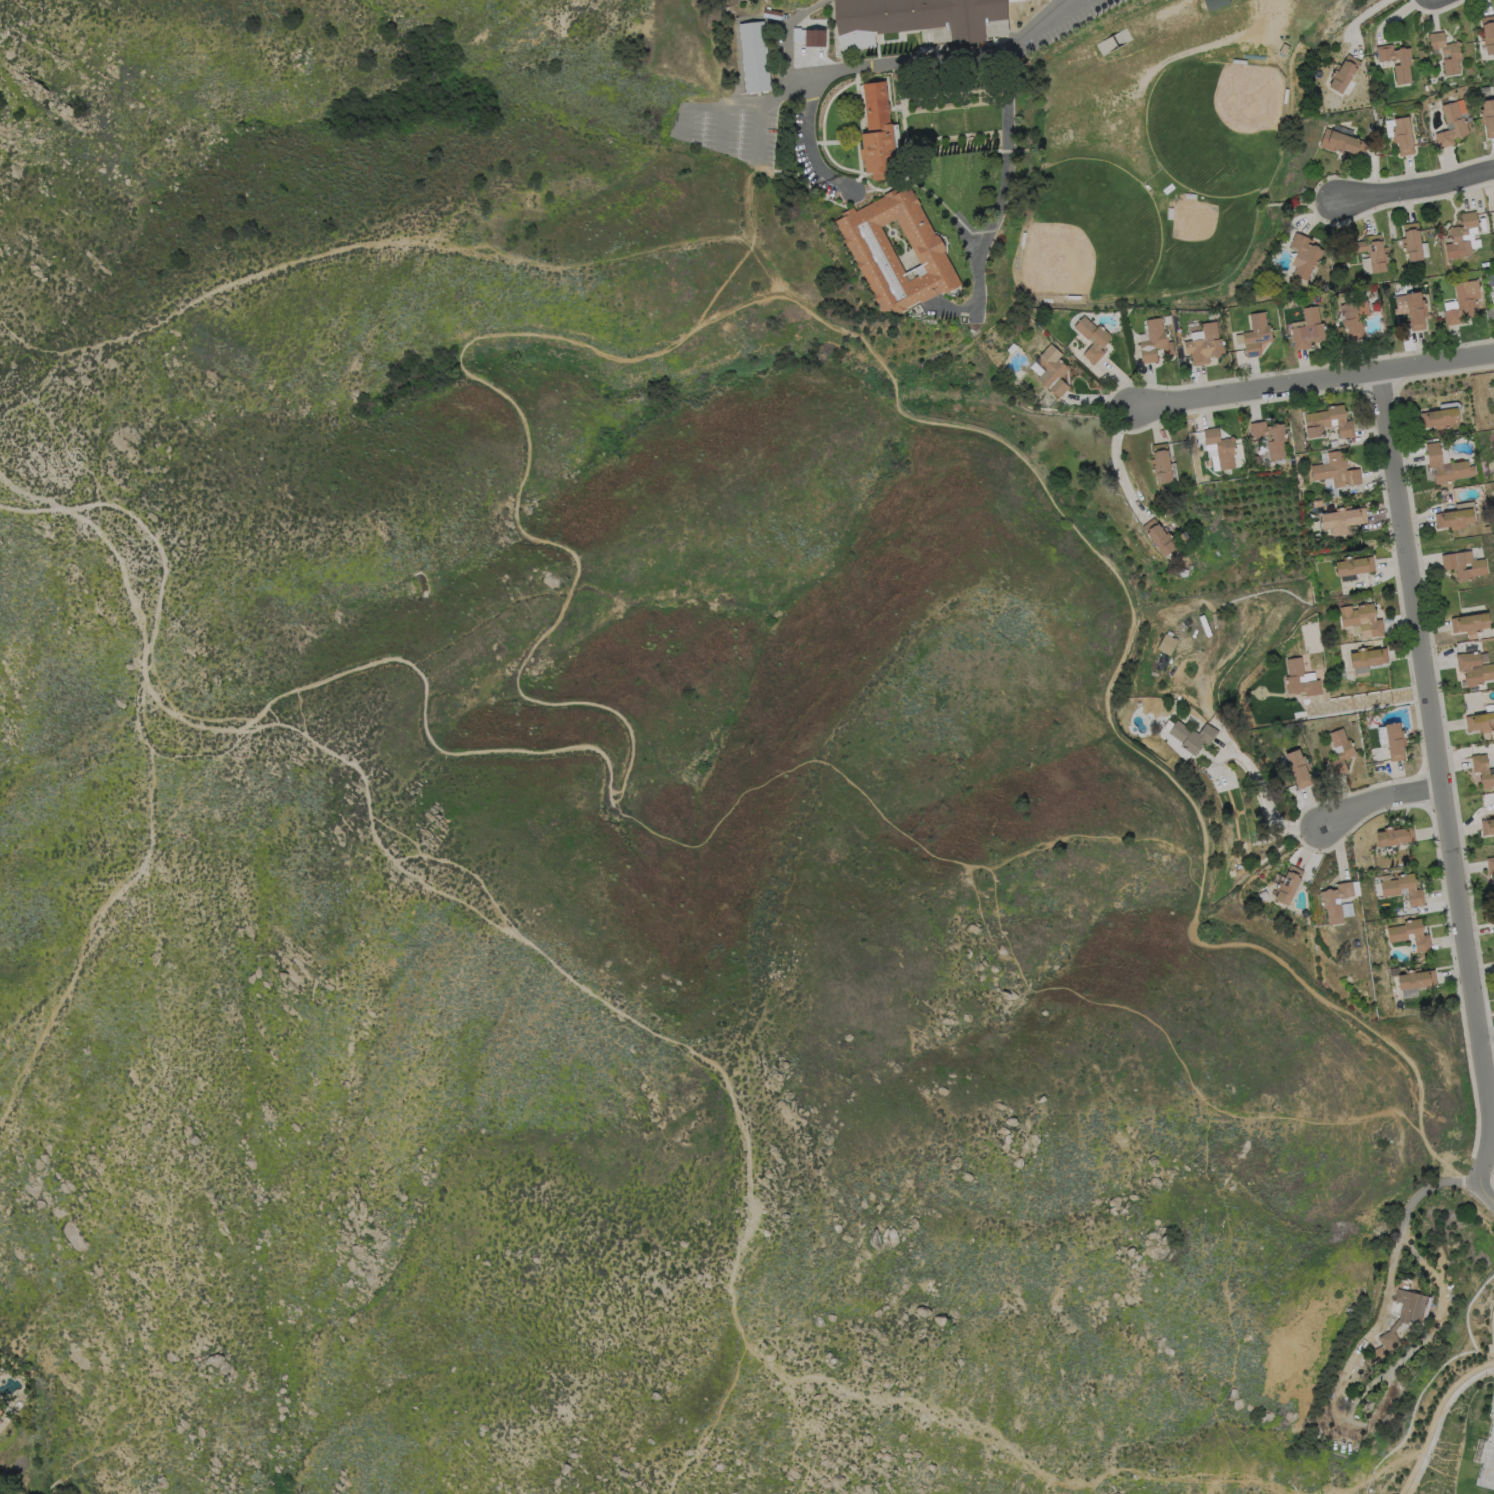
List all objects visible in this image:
road: (1074, 2)
building: (1214, 4)
building: (772, 14)
building: (917, 16)
road: (1357, 18)
road: (1044, 22)
parking lot: (1050, 23)
road: (1175, 26)
building: (796, 33)
road: (736, 34)
building: (1488, 34)
road: (786, 35)
road: (835, 35)
road: (998, 35)
building: (815, 38)
road: (893, 39)
road: (1265, 45)
building: (1282, 49)
building: (1447, 51)
building: (755, 57)
road: (1170, 57)
building: (1239, 62)
building: (1405, 64)
road: (827, 71)
building: (1344, 73)
road: (896, 77)
road: (955, 93)
building: (1286, 96)
road: (852, 97)
road: (829, 100)
road: (956, 106)
road: (892, 107)
road: (900, 112)
building: (1488, 117)
road: (861, 119)
park: (1216, 124)
parking lot: (731, 126)
building: (1451, 126)
road: (721, 127)
building: (878, 132)
road: (756, 133)
road: (956, 135)
building: (1403, 136)
road: (808, 140)
building: (1342, 144)
park: (1157, 146)
road: (908, 148)
road: (957, 148)
road: (863, 190)
road: (926, 190)
road: (1418, 190)
building: (1190, 195)
road: (999, 203)
building: (1493, 205)
road: (877, 206)
building: (1170, 213)
road: (887, 224)
park: (1088, 232)
road: (892, 236)
road: (896, 237)
building: (1461, 237)
building: (1023, 238)
building: (1412, 242)
road: (350, 246)
building: (897, 250)
building: (1373, 254)
building: (1304, 256)
road: (917, 263)
building: (1406, 270)
building: (1398, 286)
building: (1322, 288)
building: (1361, 293)
building: (1074, 297)
building: (1338, 301)
building: (1463, 302)
building: (1412, 309)
building: (1355, 317)
building: (1167, 319)
building: (1308, 329)
building: (1257, 335)
building: (1092, 338)
building: (1155, 342)
building: (1205, 345)
road: (27, 347)
building: (1052, 370)
road: (1316, 381)
building: (1441, 416)
building: (1328, 422)
building: (1277, 440)
building: (1221, 447)
road: (1115, 460)
building: (1161, 463)
road: (75, 466)
building: (1446, 466)
building: (1336, 471)
road: (32, 497)
building: (1317, 504)
building: (1212, 513)
building: (1454, 519)
building: (1343, 520)
building: (1211, 529)
building: (1160, 537)
building: (1221, 548)
road: (161, 563)
building: (1354, 566)
building: (1464, 566)
building: (1183, 572)
building: (1362, 620)
building: (1470, 623)
building: (1167, 644)
building: (1369, 657)
building: (1474, 668)
road: (1116, 670)
building: (1294, 676)
road: (528, 699)
building: (1351, 720)
building: (1480, 722)
building: (1193, 736)
building: (1395, 741)
building: (1302, 747)
building: (1340, 752)
building: (1298, 768)
building: (1483, 770)
road: (1440, 777)
road: (1382, 801)
building: (1487, 827)
building: (1395, 837)
building: (1490, 865)
road: (409, 875)
building: (1288, 884)
building: (1391, 892)
building: (1262, 894)
building: (1327, 901)
road: (110, 907)
building: (1345, 908)
building: (1493, 919)
building: (1398, 937)
building: (1415, 981)
road: (1485, 1192)
building: (1399, 1322)
road: (1444, 1394)
road: (1333, 1397)
road: (1491, 1400)
building: (1, 1407)
road: (718, 1415)
road: (1439, 1421)
park: (1458, 1438)
road: (1006, 1445)
park: (1487, 1460)
road: (1409, 1472)
road: (1366, 1481)

